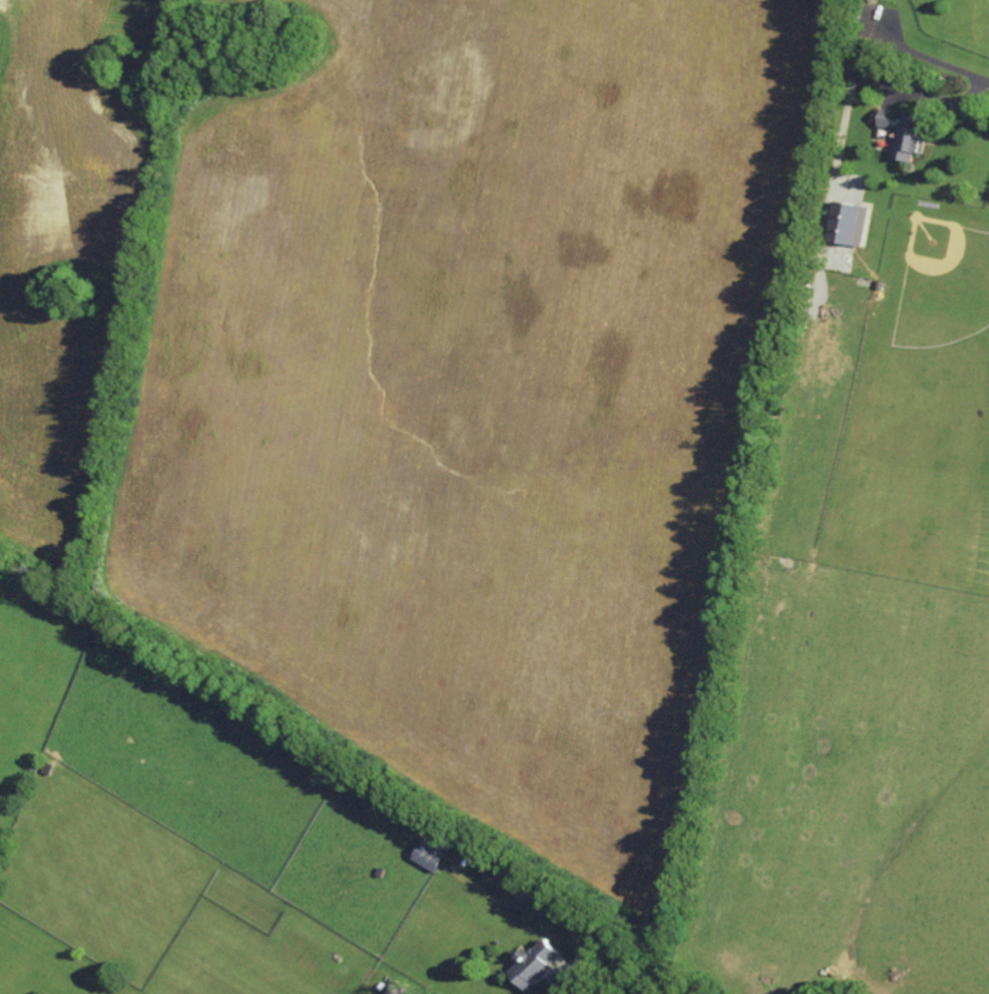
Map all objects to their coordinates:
road: (950, 98)
building: (904, 134)
building: (848, 224)
building: (432, 851)
building: (535, 963)
road: (568, 984)
building: (398, 989)

